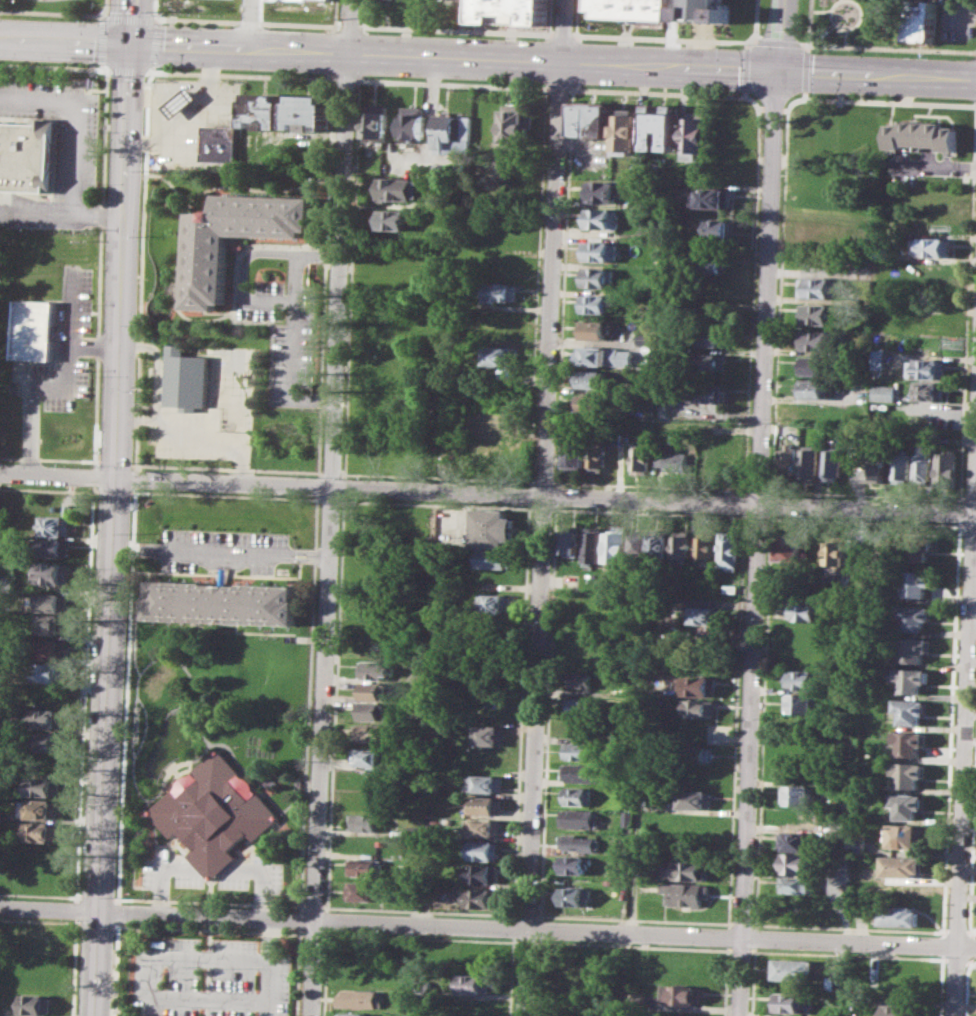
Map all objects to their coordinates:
street lamp: (20, 0)
building: (329, 0)
street lamp: (103, 2)
road: (157, 8)
building: (627, 8)
road: (106, 9)
building: (703, 10)
road: (51, 11)
building: (511, 11)
road: (335, 12)
road: (129, 17)
road: (160, 20)
road: (247, 20)
street lamp: (168, 23)
building: (919, 23)
street lamp: (572, 24)
road: (249, 25)
road: (349, 25)
street lamp: (269, 27)
road: (454, 29)
street lamp: (376, 31)
road: (561, 34)
road: (780, 35)
street lamp: (499, 37)
road: (104, 39)
road: (664, 39)
street lamp: (593, 40)
road: (778, 41)
road: (158, 43)
road: (804, 43)
street lamp: (736, 44)
road: (871, 45)
traffic signals: (132, 46)
street lamp: (825, 51)
road: (388, 57)
street lamp: (964, 57)
street lamp: (65, 61)
road: (55, 65)
street lamp: (170, 67)
road: (109, 68)
road: (130, 69)
road: (153, 70)
traffic signals: (778, 70)
street lamp: (266, 71)
street lamp: (23, 72)
street lamp: (62, 74)
road: (243, 74)
road: (877, 74)
street lamp: (112, 75)
street lamp: (373, 76)
street lamp: (498, 81)
street lamp: (592, 85)
street lamp: (736, 91)
street lamp: (822, 93)
street lamp: (963, 99)
building: (183, 101)
building: (266, 109)
building: (310, 111)
road: (197, 115)
street lamp: (103, 116)
road: (74, 119)
building: (593, 119)
parking lot: (60, 123)
building: (414, 123)
building: (516, 124)
building: (378, 125)
building: (663, 128)
building: (453, 129)
street lamp: (109, 130)
building: (627, 131)
building: (696, 133)
building: (920, 134)
building: (222, 143)
building: (26, 156)
building: (507, 168)
street lamp: (101, 180)
building: (398, 189)
building: (602, 191)
building: (713, 198)
road: (36, 212)
road: (100, 213)
building: (603, 218)
building: (392, 220)
building: (720, 228)
street lamp: (33, 230)
street lamp: (76, 231)
street lamp: (141, 234)
building: (234, 239)
building: (932, 246)
building: (601, 250)
road: (327, 255)
building: (714, 262)
road: (101, 267)
road: (243, 275)
building: (599, 277)
building: (822, 287)
building: (500, 291)
building: (598, 303)
building: (819, 313)
road: (294, 329)
building: (37, 330)
building: (596, 330)
building: (648, 338)
building: (713, 338)
building: (818, 340)
road: (95, 345)
parking lot: (64, 348)
building: (501, 355)
building: (605, 356)
building: (878, 359)
building: (713, 361)
road: (159, 366)
building: (818, 366)
building: (928, 368)
street lamp: (100, 374)
building: (505, 374)
street lamp: (152, 376)
building: (185, 378)
building: (595, 379)
road: (61, 380)
building: (813, 389)
building: (929, 390)
building: (712, 392)
building: (884, 392)
road: (323, 401)
building: (594, 404)
building: (929, 416)
road: (137, 418)
building: (490, 420)
road: (209, 438)
street lamp: (149, 448)
building: (456, 454)
building: (597, 454)
building: (576, 455)
road: (47, 458)
building: (788, 459)
building: (809, 459)
building: (642, 460)
building: (671, 460)
street lamp: (132, 461)
street lamp: (231, 461)
road: (115, 462)
building: (922, 463)
road: (94, 464)
road: (133, 464)
building: (833, 464)
building: (877, 464)
street lamp: (89, 465)
building: (902, 465)
road: (135, 466)
building: (946, 467)
road: (227, 468)
road: (93, 476)
road: (136, 478)
street lamp: (227, 492)
road: (487, 493)
road: (115, 507)
road: (331, 507)
road: (544, 507)
building: (54, 525)
street lamp: (183, 526)
building: (494, 528)
street lamp: (269, 530)
building: (569, 541)
road: (756, 542)
building: (594, 544)
building: (616, 545)
building: (682, 545)
building: (640, 546)
building: (52, 547)
building: (660, 547)
building: (705, 547)
building: (917, 547)
road: (200, 549)
parking lot: (222, 549)
building: (728, 549)
building: (785, 549)
road: (308, 551)
road: (287, 553)
building: (835, 554)
road: (308, 558)
building: (495, 559)
building: (52, 572)
building: (916, 583)
building: (730, 587)
building: (50, 601)
building: (224, 602)
building: (495, 603)
building: (805, 609)
building: (701, 614)
building: (915, 617)
building: (51, 624)
building: (804, 633)
building: (913, 647)
building: (377, 648)
building: (50, 649)
building: (802, 657)
building: (375, 669)
building: (49, 673)
building: (911, 678)
building: (580, 680)
building: (802, 680)
building: (701, 685)
building: (373, 690)
road: (85, 693)
road: (127, 695)
building: (802, 703)
building: (581, 706)
building: (699, 708)
building: (372, 711)
building: (911, 711)
building: (49, 718)
building: (371, 733)
road: (965, 735)
building: (489, 736)
building: (47, 741)
building: (910, 741)
building: (799, 749)
building: (578, 750)
building: (697, 754)
building: (369, 757)
building: (580, 773)
building: (909, 773)
building: (697, 777)
building: (485, 784)
building: (45, 787)
building: (798, 795)
building: (576, 796)
building: (693, 799)
building: (907, 804)
building: (488, 806)
building: (40, 808)
building: (214, 812)
building: (579, 818)
building: (797, 818)
building: (364, 821)
road: (637, 826)
building: (483, 828)
building: (42, 831)
building: (905, 835)
building: (579, 842)
building: (794, 842)
building: (484, 850)
building: (796, 863)
building: (575, 864)
building: (902, 865)
building: (365, 867)
road: (213, 869)
building: (687, 870)
building: (481, 873)
building: (795, 884)
building: (362, 890)
building: (687, 893)
building: (574, 896)
building: (479, 897)
road: (49, 909)
road: (77, 909)
road: (118, 912)
building: (900, 914)
road: (209, 917)
road: (647, 933)
building: (39, 935)
road: (74, 967)
road: (271, 968)
road: (116, 969)
building: (794, 969)
building: (358, 972)
road: (152, 976)
parking lot: (211, 978)
building: (832, 982)
building: (475, 983)
building: (685, 994)
building: (362, 998)
building: (794, 1002)
building: (34, 1004)
building: (474, 1006)
road: (207, 1008)
building: (900, 1010)
building: (356, 1014)

